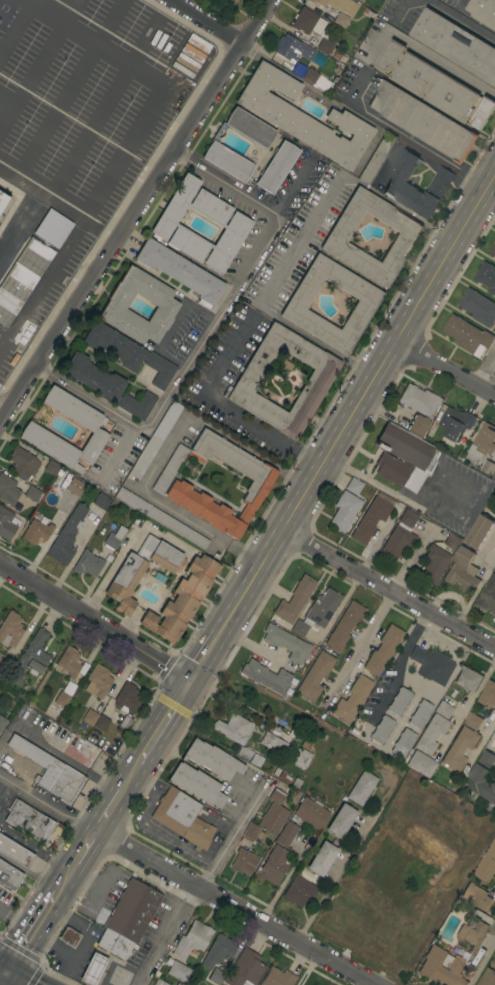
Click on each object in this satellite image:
building: (228, 1)
building: (360, 1)
building: (338, 5)
road: (55, 6)
road: (400, 10)
building: (483, 11)
road: (463, 18)
building: (340, 19)
building: (307, 22)
road: (203, 25)
road: (17, 29)
road: (96, 42)
building: (456, 44)
building: (325, 45)
building: (292, 48)
road: (425, 54)
road: (39, 65)
building: (315, 79)
road: (69, 82)
building: (436, 86)
parking lot: (84, 99)
road: (331, 101)
road: (5, 103)
road: (104, 103)
road: (5, 115)
building: (303, 117)
building: (423, 121)
road: (402, 135)
building: (215, 146)
building: (376, 157)
building: (276, 167)
road: (227, 183)
building: (400, 185)
road: (97, 190)
building: (4, 201)
road: (137, 214)
road: (22, 216)
building: (238, 224)
building: (52, 227)
building: (336, 238)
road: (298, 242)
building: (493, 250)
building: (180, 271)
building: (487, 276)
building: (22, 278)
parking lot: (41, 298)
building: (296, 304)
building: (166, 305)
building: (478, 307)
building: (468, 335)
road: (166, 339)
road: (196, 345)
building: (129, 353)
building: (282, 366)
road: (444, 368)
road: (485, 369)
building: (320, 377)
building: (108, 386)
building: (420, 400)
road: (6, 405)
road: (222, 406)
building: (457, 422)
building: (418, 425)
road: (344, 426)
building: (34, 430)
building: (154, 440)
building: (484, 441)
road: (115, 452)
building: (403, 457)
building: (23, 462)
building: (52, 468)
building: (488, 468)
building: (259, 483)
building: (75, 486)
building: (353, 486)
building: (8, 490)
building: (32, 493)
building: (101, 501)
road: (169, 504)
building: (344, 511)
building: (372, 517)
building: (161, 519)
building: (7, 523)
building: (480, 531)
building: (36, 532)
building: (67, 536)
building: (400, 536)
building: (114, 537)
building: (439, 558)
building: (87, 564)
building: (140, 570)
building: (463, 571)
road: (389, 590)
road: (475, 593)
building: (488, 596)
building: (182, 599)
building: (295, 599)
building: (318, 612)
road: (95, 623)
building: (344, 626)
building: (10, 629)
road: (365, 640)
building: (287, 643)
building: (383, 650)
building: (34, 654)
building: (68, 662)
building: (428, 663)
building: (4, 664)
road: (399, 664)
building: (266, 676)
building: (315, 676)
building: (469, 679)
building: (97, 681)
building: (65, 694)
building: (488, 694)
building: (127, 699)
building: (352, 699)
building: (399, 701)
road: (468, 704)
building: (443, 709)
building: (420, 714)
building: (89, 717)
building: (473, 720)
road: (165, 721)
building: (2, 722)
building: (101, 723)
building: (123, 724)
building: (234, 728)
building: (382, 730)
building: (431, 734)
building: (285, 737)
building: (405, 738)
building: (307, 741)
building: (273, 743)
building: (70, 745)
building: (460, 748)
building: (244, 754)
building: (300, 757)
building: (212, 759)
building: (256, 760)
building: (421, 764)
building: (47, 769)
road: (131, 776)
building: (484, 777)
building: (197, 784)
building: (361, 788)
building: (278, 793)
road: (109, 812)
building: (312, 814)
building: (183, 818)
building: (273, 818)
building: (29, 821)
building: (341, 821)
building: (252, 832)
building: (286, 834)
building: (244, 842)
road: (86, 848)
building: (14, 851)
building: (321, 859)
building: (244, 861)
building: (487, 864)
building: (272, 866)
road: (335, 874)
building: (8, 876)
road: (66, 878)
road: (203, 881)
road: (186, 882)
road: (282, 883)
building: (300, 891)
building: (476, 896)
building: (132, 910)
road: (16, 922)
building: (473, 933)
road: (30, 934)
building: (69, 936)
road: (84, 939)
building: (192, 939)
building: (114, 944)
road: (53, 946)
building: (218, 951)
road: (111, 959)
road: (482, 964)
building: (441, 968)
building: (93, 969)
building: (244, 969)
building: (178, 971)
road: (133, 972)
road: (2, 974)
building: (215, 976)
building: (489, 976)
building: (277, 977)
road: (2, 979)
road: (14, 980)
building: (159, 982)
building: (176, 984)
building: (177, 984)

